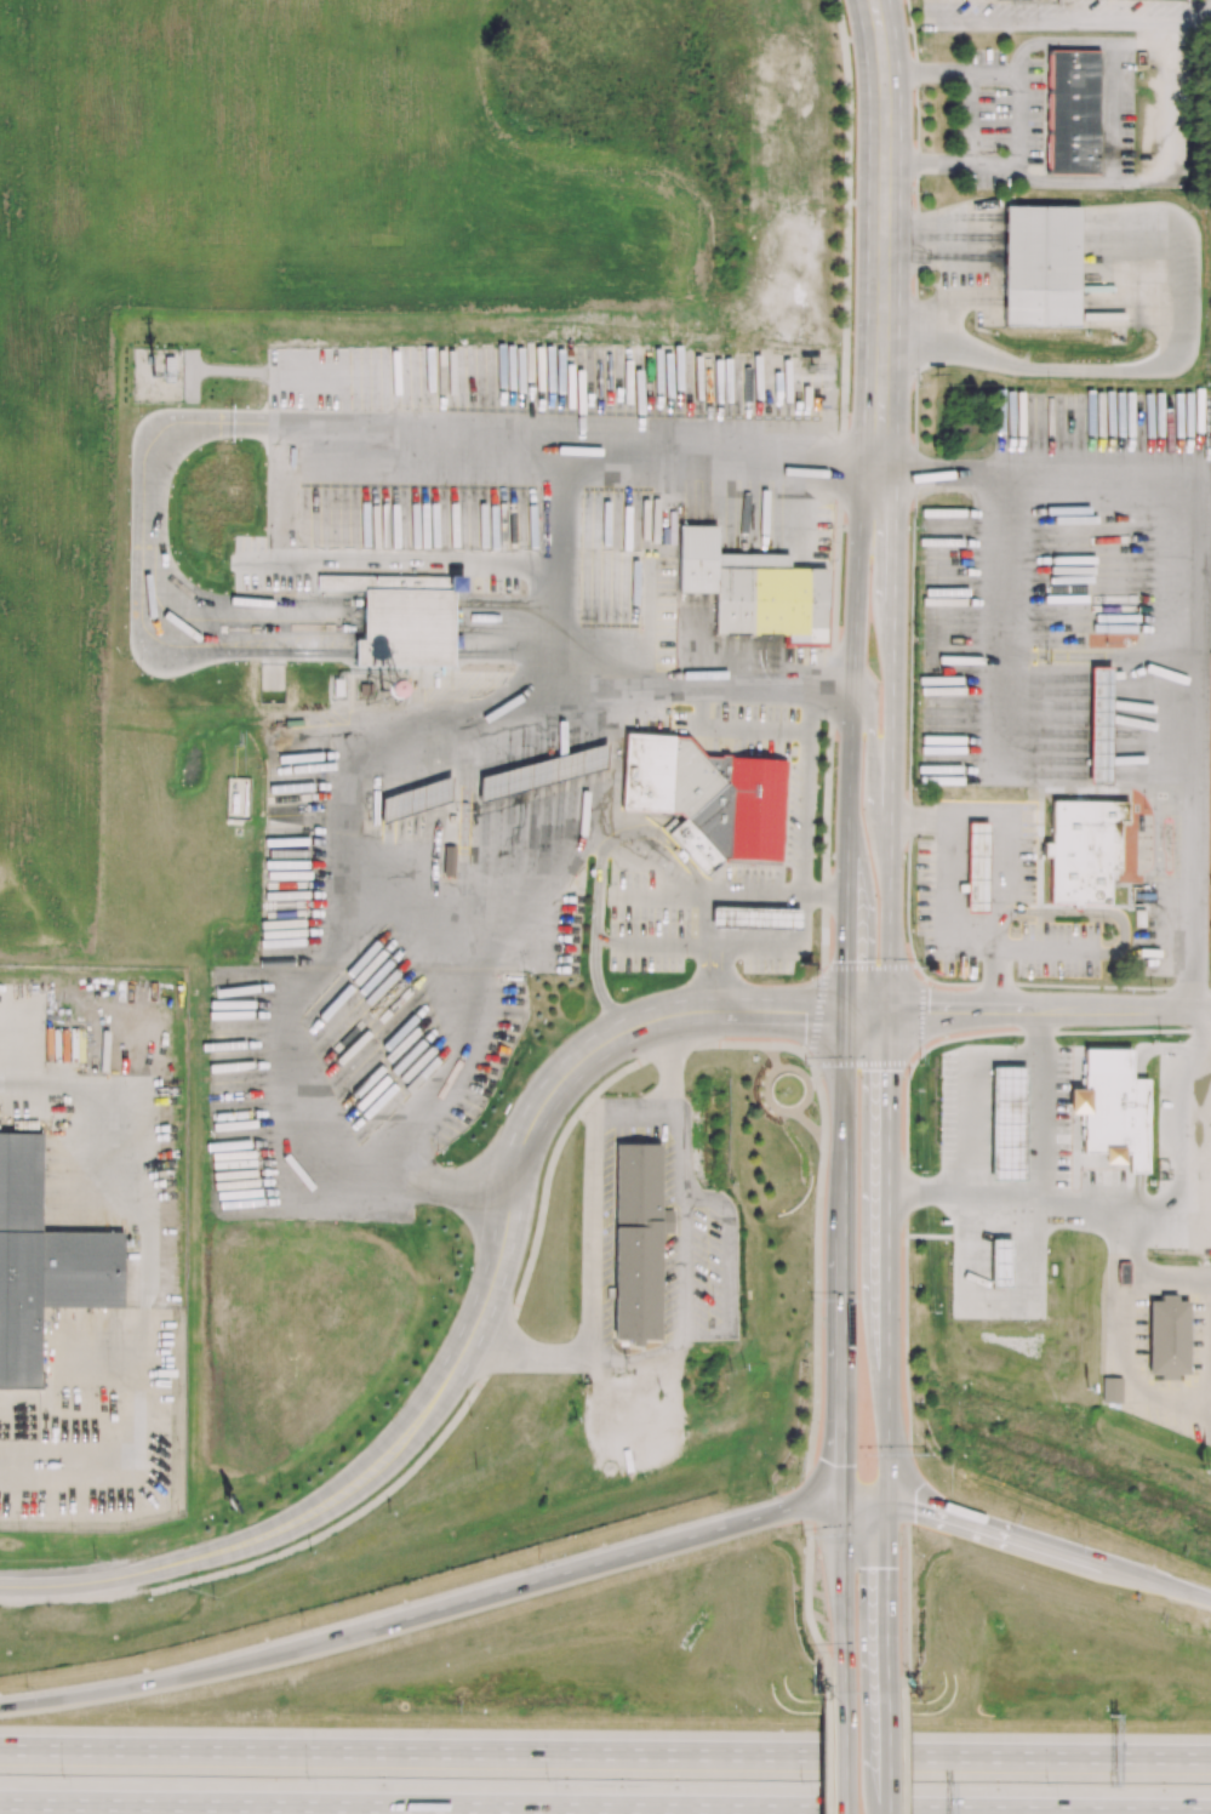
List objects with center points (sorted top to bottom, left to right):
building: (1024, 0)
road: (1204, 12)
road: (1114, 15)
road: (882, 70)
road: (1110, 105)
building: (1072, 112)
road: (884, 164)
road: (868, 199)
road: (899, 200)
building: (1041, 267)
road: (955, 276)
road: (1103, 370)
road: (175, 426)
road: (844, 531)
road: (558, 563)
road: (1188, 588)
building: (754, 589)
building: (1116, 599)
road: (427, 620)
road: (1002, 621)
parking lot: (693, 622)
road: (512, 628)
building: (428, 641)
building: (356, 666)
building: (333, 690)
water tower: (350, 694)
road: (876, 706)
parking lot: (718, 724)
building: (1099, 725)
road: (727, 730)
building: (544, 772)
building: (646, 774)
building: (416, 800)
building: (698, 805)
road: (964, 810)
building: (755, 811)
road: (913, 820)
road: (802, 828)
building: (1086, 834)
road: (587, 839)
parking lot: (1028, 851)
building: (977, 868)
road: (596, 885)
building: (1080, 886)
parking lot: (925, 894)
road: (650, 895)
road: (725, 895)
road: (1085, 911)
building: (755, 918)
road: (349, 941)
road: (604, 942)
road: (749, 949)
parking lot: (1061, 951)
road: (1051, 953)
road: (998, 981)
road: (464, 999)
road: (1023, 1009)
road: (933, 1010)
road: (1129, 1010)
traffic signals: (870, 1011)
road: (550, 1090)
building: (1112, 1109)
road: (623, 1113)
road: (824, 1117)
building: (1007, 1124)
road: (1177, 1128)
road: (1049, 1181)
road: (1084, 1200)
building: (638, 1240)
road: (1131, 1247)
parking lot: (679, 1251)
building: (1000, 1262)
building: (42, 1263)
road: (730, 1268)
building: (1125, 1274)
road: (1179, 1283)
road: (516, 1310)
building: (1169, 1336)
road: (844, 1348)
road: (886, 1350)
road: (1209, 1353)
road: (1131, 1375)
building: (1110, 1391)
road: (811, 1427)
road: (908, 1442)
road: (827, 1454)
traffic signals: (842, 1464)
road: (906, 1472)
road: (834, 1504)
traffic signals: (913, 1508)
road: (920, 1510)
road: (236, 1548)
road: (1081, 1562)
traffic signals: (886, 1567)
road: (393, 1615)
street lamp: (25, 1685)
road: (841, 1752)
road: (886, 1752)
road: (902, 1753)
road: (605, 1755)
road: (821, 1756)
street lamp: (62, 1776)
road: (605, 1808)

